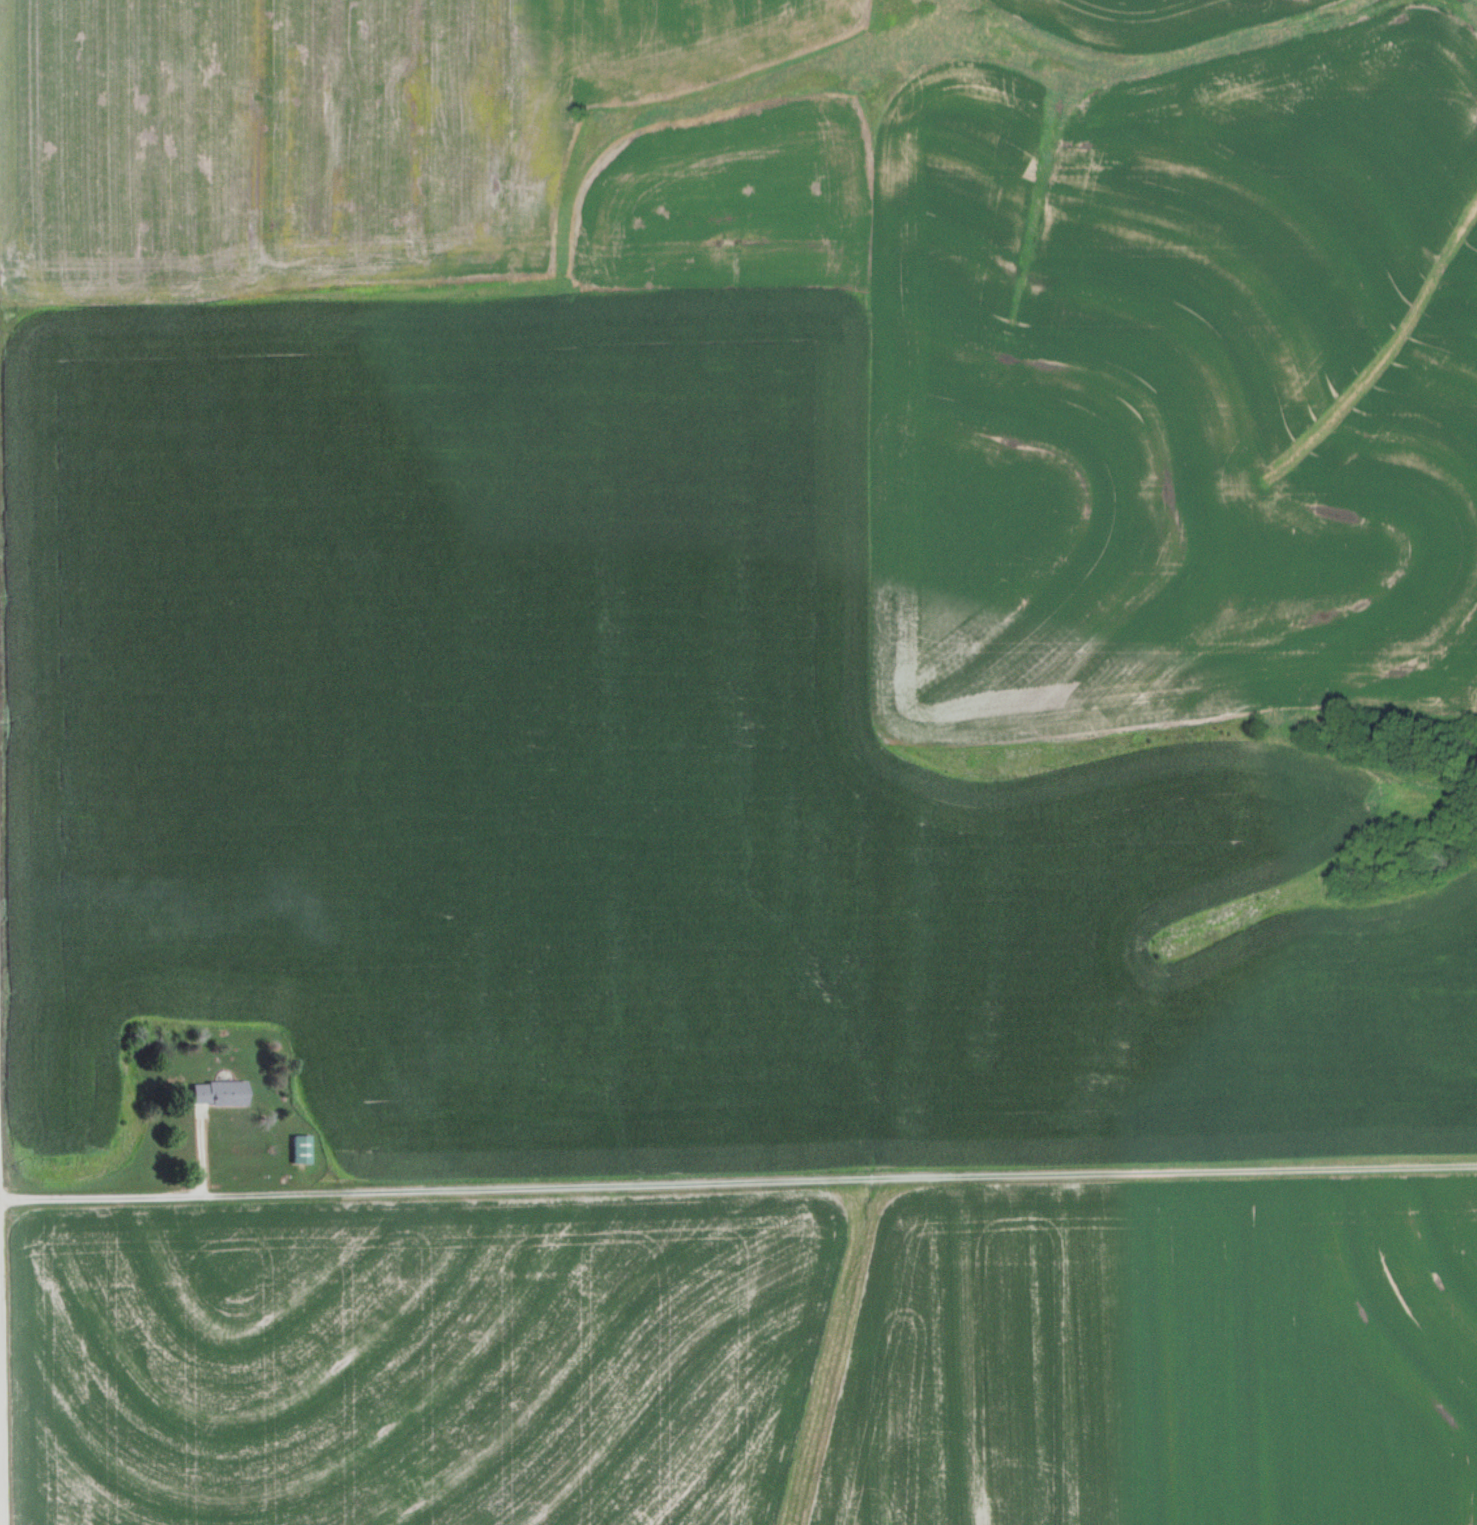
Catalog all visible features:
building: (218, 1092)
building: (301, 1147)
road: (738, 1184)
road: (0, 1484)

